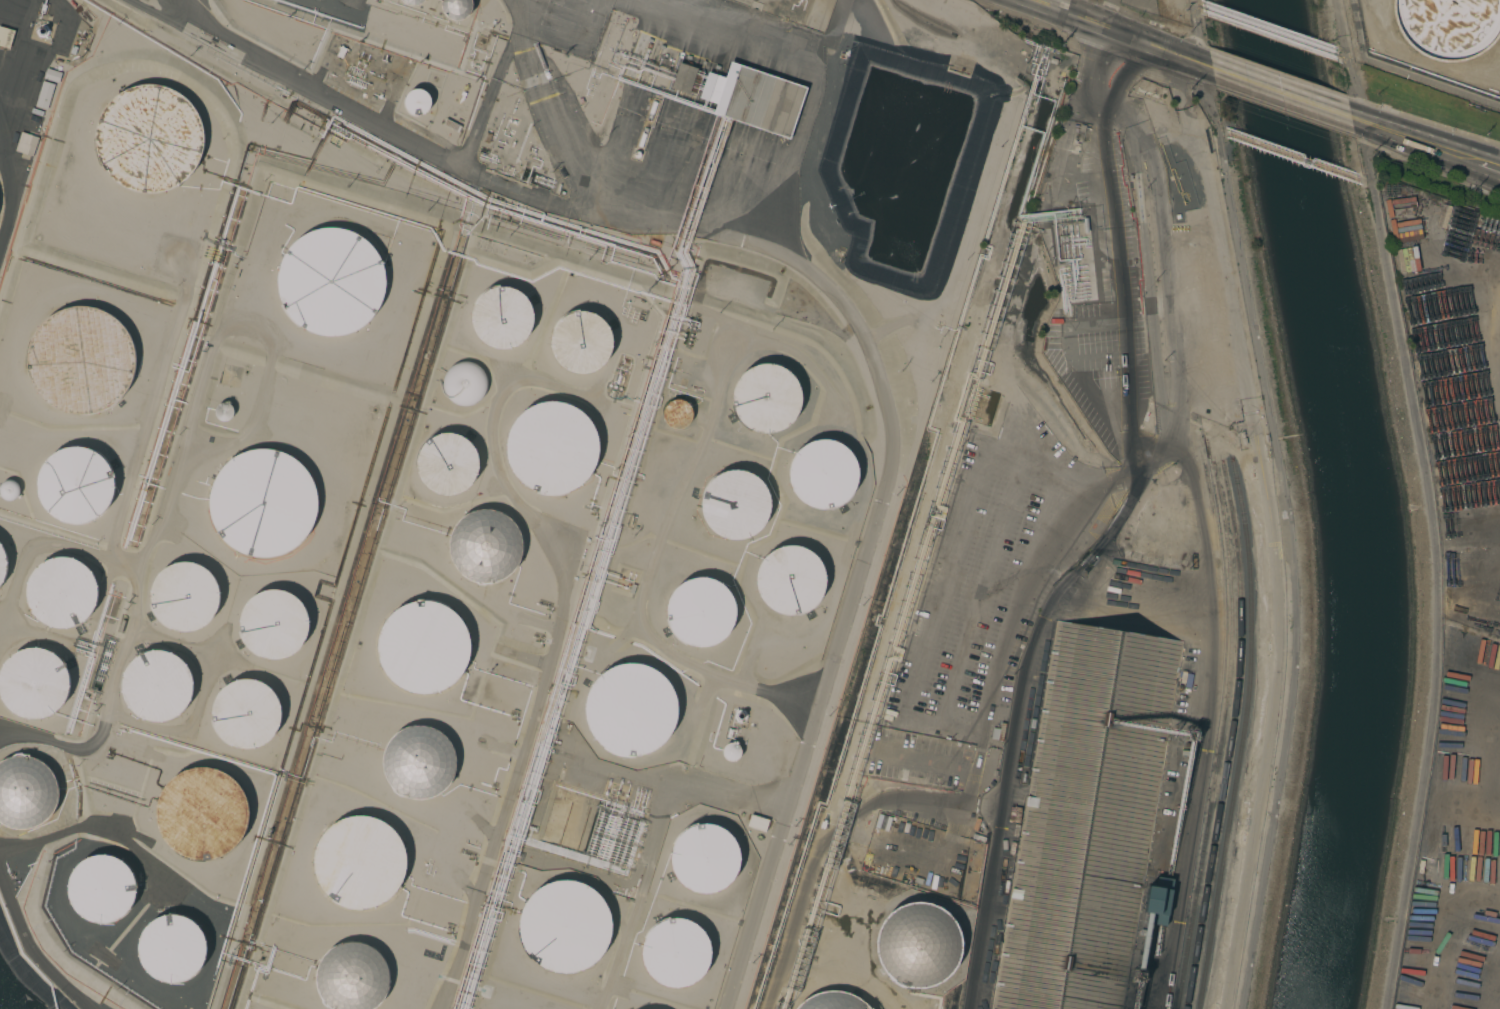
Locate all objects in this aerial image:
building: (413, 2)
building: (457, 9)
building: (1448, 27)
road: (1117, 34)
building: (6, 36)
road: (1350, 60)
building: (52, 75)
building: (682, 78)
road: (1282, 92)
building: (44, 94)
building: (754, 98)
building: (418, 101)
road: (1356, 119)
building: (450, 125)
building: (151, 139)
road: (1417, 140)
building: (26, 144)
road: (461, 160)
road: (1486, 164)
road: (14, 185)
building: (1454, 219)
building: (331, 281)
building: (503, 317)
road: (1493, 327)
building: (581, 341)
building: (1434, 358)
building: (81, 365)
building: (464, 383)
building: (765, 397)
building: (677, 410)
building: (223, 411)
road: (889, 419)
building: (547, 449)
building: (447, 462)
building: (820, 471)
building: (75, 484)
building: (9, 489)
building: (263, 503)
building: (734, 504)
road: (1201, 513)
building: (490, 545)
road: (1108, 551)
road: (1435, 563)
building: (2, 564)
building: (788, 580)
railway: (1219, 582)
building: (60, 592)
building: (183, 596)
building: (701, 611)
building: (273, 621)
building: (424, 643)
road: (212, 655)
building: (1477, 660)
building: (33, 683)
building: (156, 684)
building: (634, 710)
building: (247, 713)
building: (738, 716)
road: (930, 720)
railway: (1243, 735)
railway: (1221, 736)
railway: (1231, 736)
road: (63, 745)
building: (730, 751)
road: (1012, 759)
building: (415, 762)
building: (908, 776)
building: (1435, 789)
building: (27, 793)
building: (205, 812)
building: (1014, 814)
building: (1087, 819)
building: (757, 822)
building: (882, 822)
road: (844, 824)
building: (709, 857)
building: (362, 860)
building: (102, 889)
building: (1158, 901)
building: (562, 925)
building: (917, 945)
road: (31, 949)
building: (171, 949)
building: (673, 949)
building: (349, 977)
building: (832, 1001)

